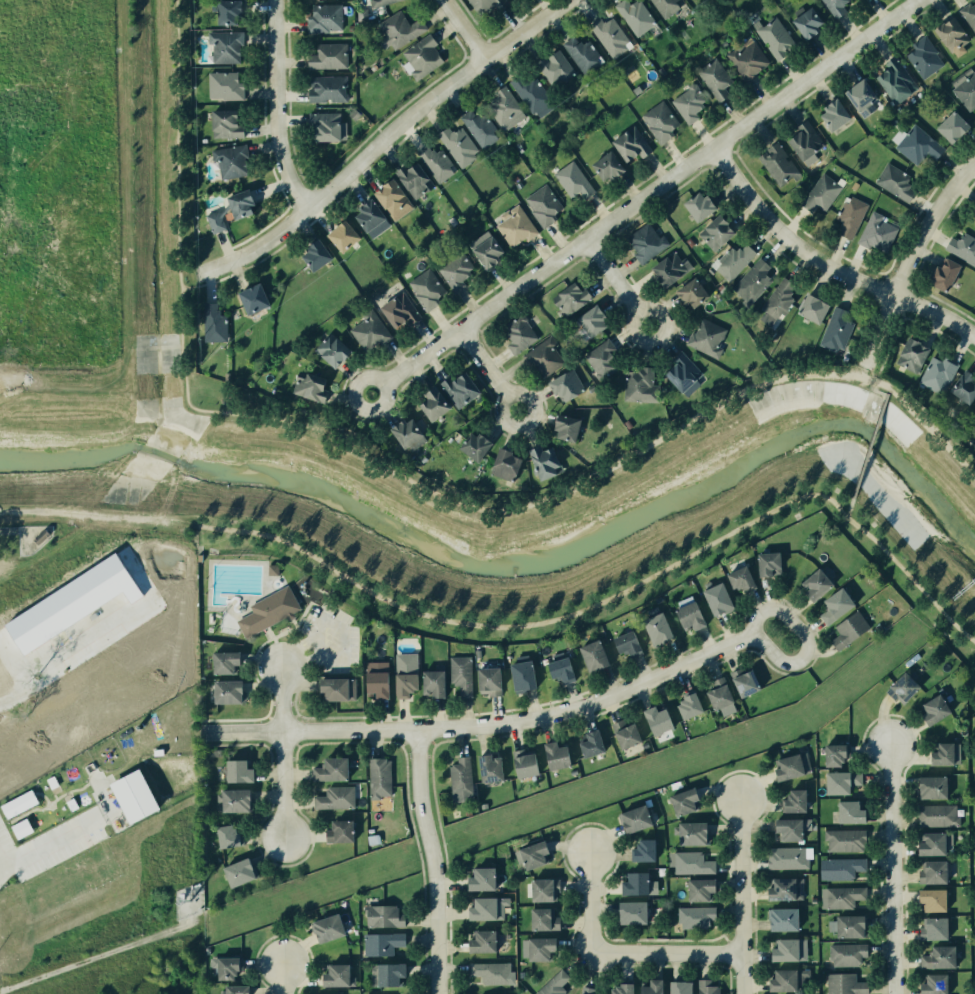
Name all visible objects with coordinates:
building: (860, 0)
building: (380, 3)
building: (482, 5)
building: (666, 6)
building: (833, 7)
building: (223, 11)
building: (968, 15)
building: (634, 17)
building: (325, 19)
building: (803, 22)
building: (396, 29)
road: (467, 29)
building: (604, 33)
building: (948, 34)
building: (772, 35)
building: (222, 47)
building: (579, 52)
building: (328, 56)
building: (420, 58)
building: (745, 59)
building: (924, 59)
building: (553, 68)
building: (712, 78)
building: (894, 81)
building: (222, 85)
building: (326, 91)
building: (855, 92)
building: (965, 92)
building: (528, 94)
building: (687, 103)
building: (501, 107)
road: (276, 108)
building: (832, 114)
building: (660, 123)
building: (223, 124)
building: (320, 125)
building: (476, 126)
building: (949, 128)
road: (381, 138)
building: (803, 140)
building: (628, 143)
road: (178, 144)
building: (457, 146)
building: (918, 148)
building: (228, 162)
building: (435, 164)
building: (776, 164)
building: (603, 166)
building: (413, 179)
building: (893, 181)
building: (570, 184)
building: (819, 194)
road: (641, 196)
building: (389, 198)
building: (694, 204)
building: (542, 205)
building: (973, 205)
building: (229, 209)
building: (366, 214)
building: (848, 216)
road: (929, 224)
building: (513, 227)
building: (712, 231)
building: (876, 234)
building: (340, 236)
building: (643, 240)
building: (961, 248)
building: (483, 249)
building: (313, 255)
building: (733, 259)
road: (827, 259)
building: (667, 268)
road: (610, 272)
building: (453, 273)
building: (939, 274)
building: (754, 280)
road: (193, 285)
building: (423, 288)
building: (687, 295)
building: (249, 298)
building: (568, 298)
building: (778, 302)
building: (808, 308)
building: (397, 310)
road: (628, 318)
building: (589, 321)
building: (212, 322)
building: (836, 326)
road: (884, 327)
building: (368, 333)
building: (514, 335)
building: (706, 338)
building: (326, 351)
building: (905, 357)
building: (542, 359)
building: (603, 359)
road: (484, 361)
building: (679, 371)
building: (935, 375)
building: (635, 384)
building: (563, 385)
building: (307, 387)
building: (458, 387)
building: (964, 389)
road: (875, 390)
building: (428, 405)
building: (974, 419)
road: (508, 422)
building: (561, 428)
building: (402, 430)
building: (468, 441)
road: (868, 445)
building: (543, 460)
building: (502, 464)
road: (545, 497)
road: (848, 507)
road: (10, 530)
building: (36, 535)
building: (769, 565)
building: (271, 569)
river: (525, 572)
building: (741, 578)
building: (687, 581)
road: (332, 583)
building: (816, 584)
road: (319, 590)
road: (614, 593)
building: (657, 598)
building: (718, 599)
road: (322, 600)
road: (313, 603)
building: (836, 605)
building: (266, 609)
road: (303, 609)
park: (276, 610)
building: (690, 615)
road: (300, 619)
road: (292, 620)
road: (297, 622)
road: (332, 622)
building: (656, 625)
road: (316, 628)
building: (846, 629)
road: (299, 630)
road: (269, 631)
road: (283, 632)
road: (801, 632)
parking lot: (330, 638)
road: (273, 639)
road: (261, 642)
road: (341, 642)
building: (627, 642)
road: (300, 644)
building: (476, 653)
road: (331, 656)
building: (592, 656)
road: (285, 657)
road: (310, 658)
building: (222, 660)
road: (289, 664)
building: (560, 667)
building: (458, 673)
building: (407, 674)
building: (522, 675)
building: (373, 679)
building: (489, 681)
building: (432, 682)
building: (745, 682)
building: (335, 687)
building: (903, 689)
building: (224, 691)
building: (719, 693)
road: (279, 700)
building: (688, 703)
building: (934, 709)
building: (657, 719)
road: (486, 725)
building: (625, 733)
building: (589, 744)
building: (835, 754)
building: (946, 754)
building: (556, 755)
building: (520, 763)
building: (489, 767)
building: (792, 767)
building: (329, 769)
building: (234, 770)
building: (571, 771)
building: (377, 775)
building: (460, 779)
building: (841, 782)
road: (281, 786)
building: (930, 787)
building: (134, 796)
building: (335, 798)
building: (235, 800)
building: (793, 801)
building: (681, 802)
building: (19, 804)
building: (467, 812)
building: (850, 812)
building: (936, 816)
building: (632, 818)
building: (22, 828)
building: (791, 828)
building: (339, 831)
building: (689, 833)
building: (228, 836)
building: (844, 840)
road: (49, 844)
building: (932, 844)
building: (639, 850)
building: (531, 853)
building: (787, 858)
road: (430, 861)
building: (691, 862)
building: (843, 867)
road: (892, 869)
building: (240, 872)
building: (933, 872)
building: (478, 877)
building: (630, 882)
building: (540, 888)
building: (696, 889)
building: (785, 889)
building: (179, 896)
building: (839, 896)
road: (740, 897)
building: (932, 900)
building: (478, 907)
building: (627, 911)
building: (383, 916)
building: (541, 919)
building: (694, 920)
building: (783, 920)
building: (850, 925)
building: (328, 928)
building: (935, 929)
building: (505, 934)
building: (478, 941)
building: (381, 943)
building: (537, 948)
building: (205, 950)
building: (785, 950)
road: (614, 954)
building: (846, 954)
building: (939, 957)
building: (227, 967)
building: (489, 971)
building: (386, 974)
building: (337, 975)
road: (282, 979)
building: (788, 979)
building: (552, 983)
building: (844, 984)
building: (935, 984)
building: (707, 986)
building: (645, 987)
building: (676, 987)
building: (616, 988)
building: (234, 989)
building: (590, 991)
building: (316, 993)
building: (577, 993)

